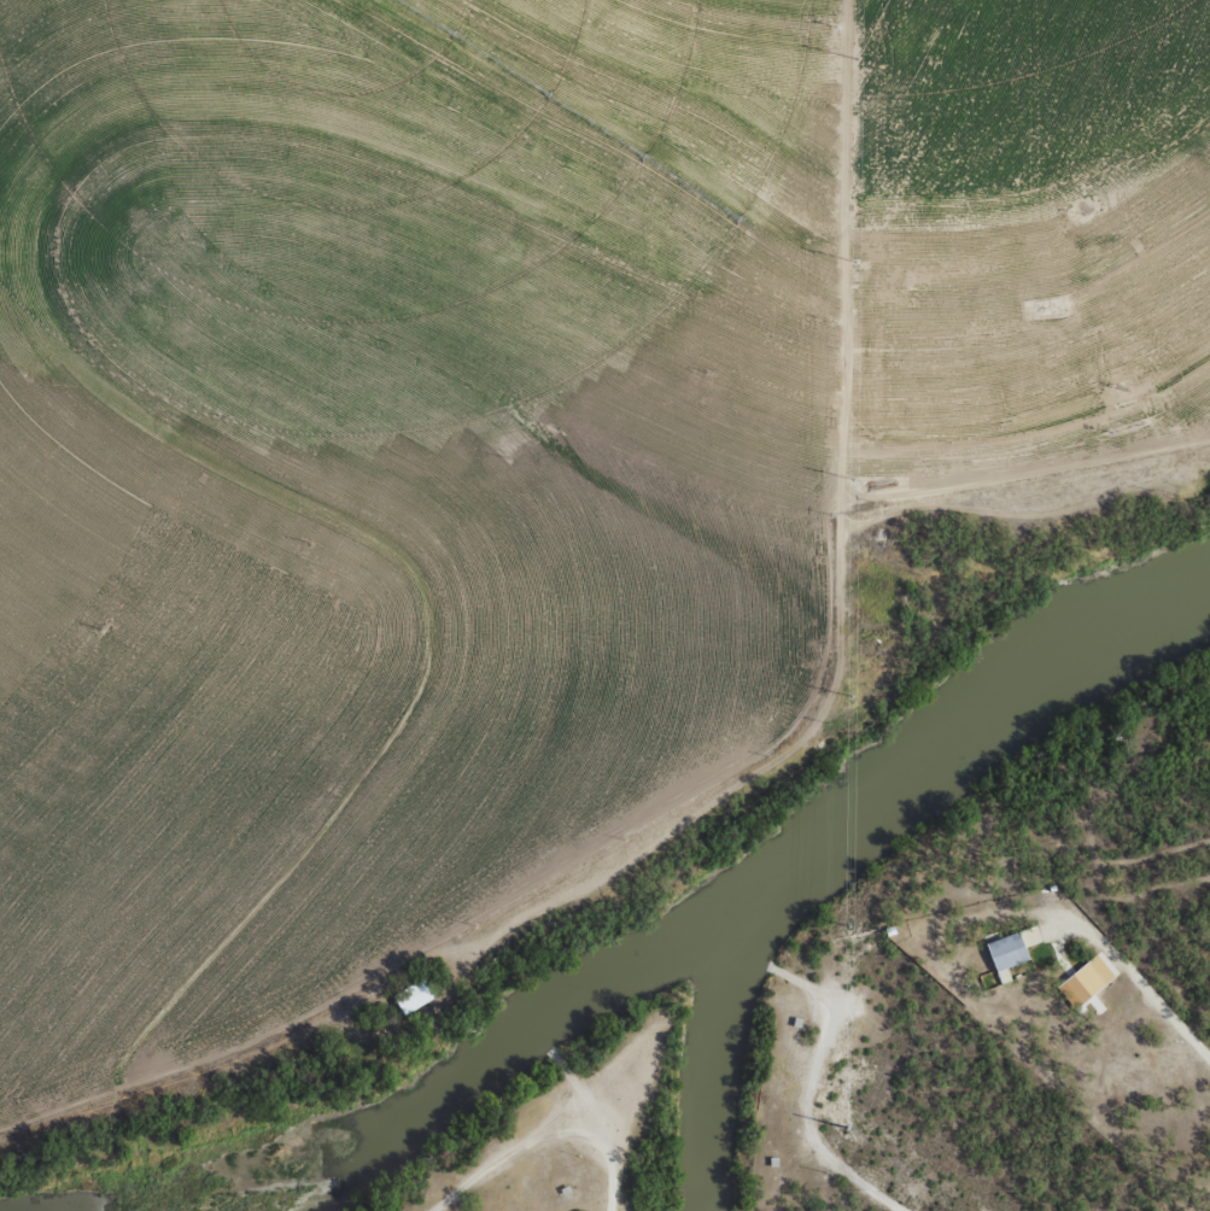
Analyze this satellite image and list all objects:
road: (899, 309)
river: (964, 726)
building: (1007, 953)
building: (1091, 977)
building: (414, 996)
river: (518, 1048)
road: (629, 1182)

